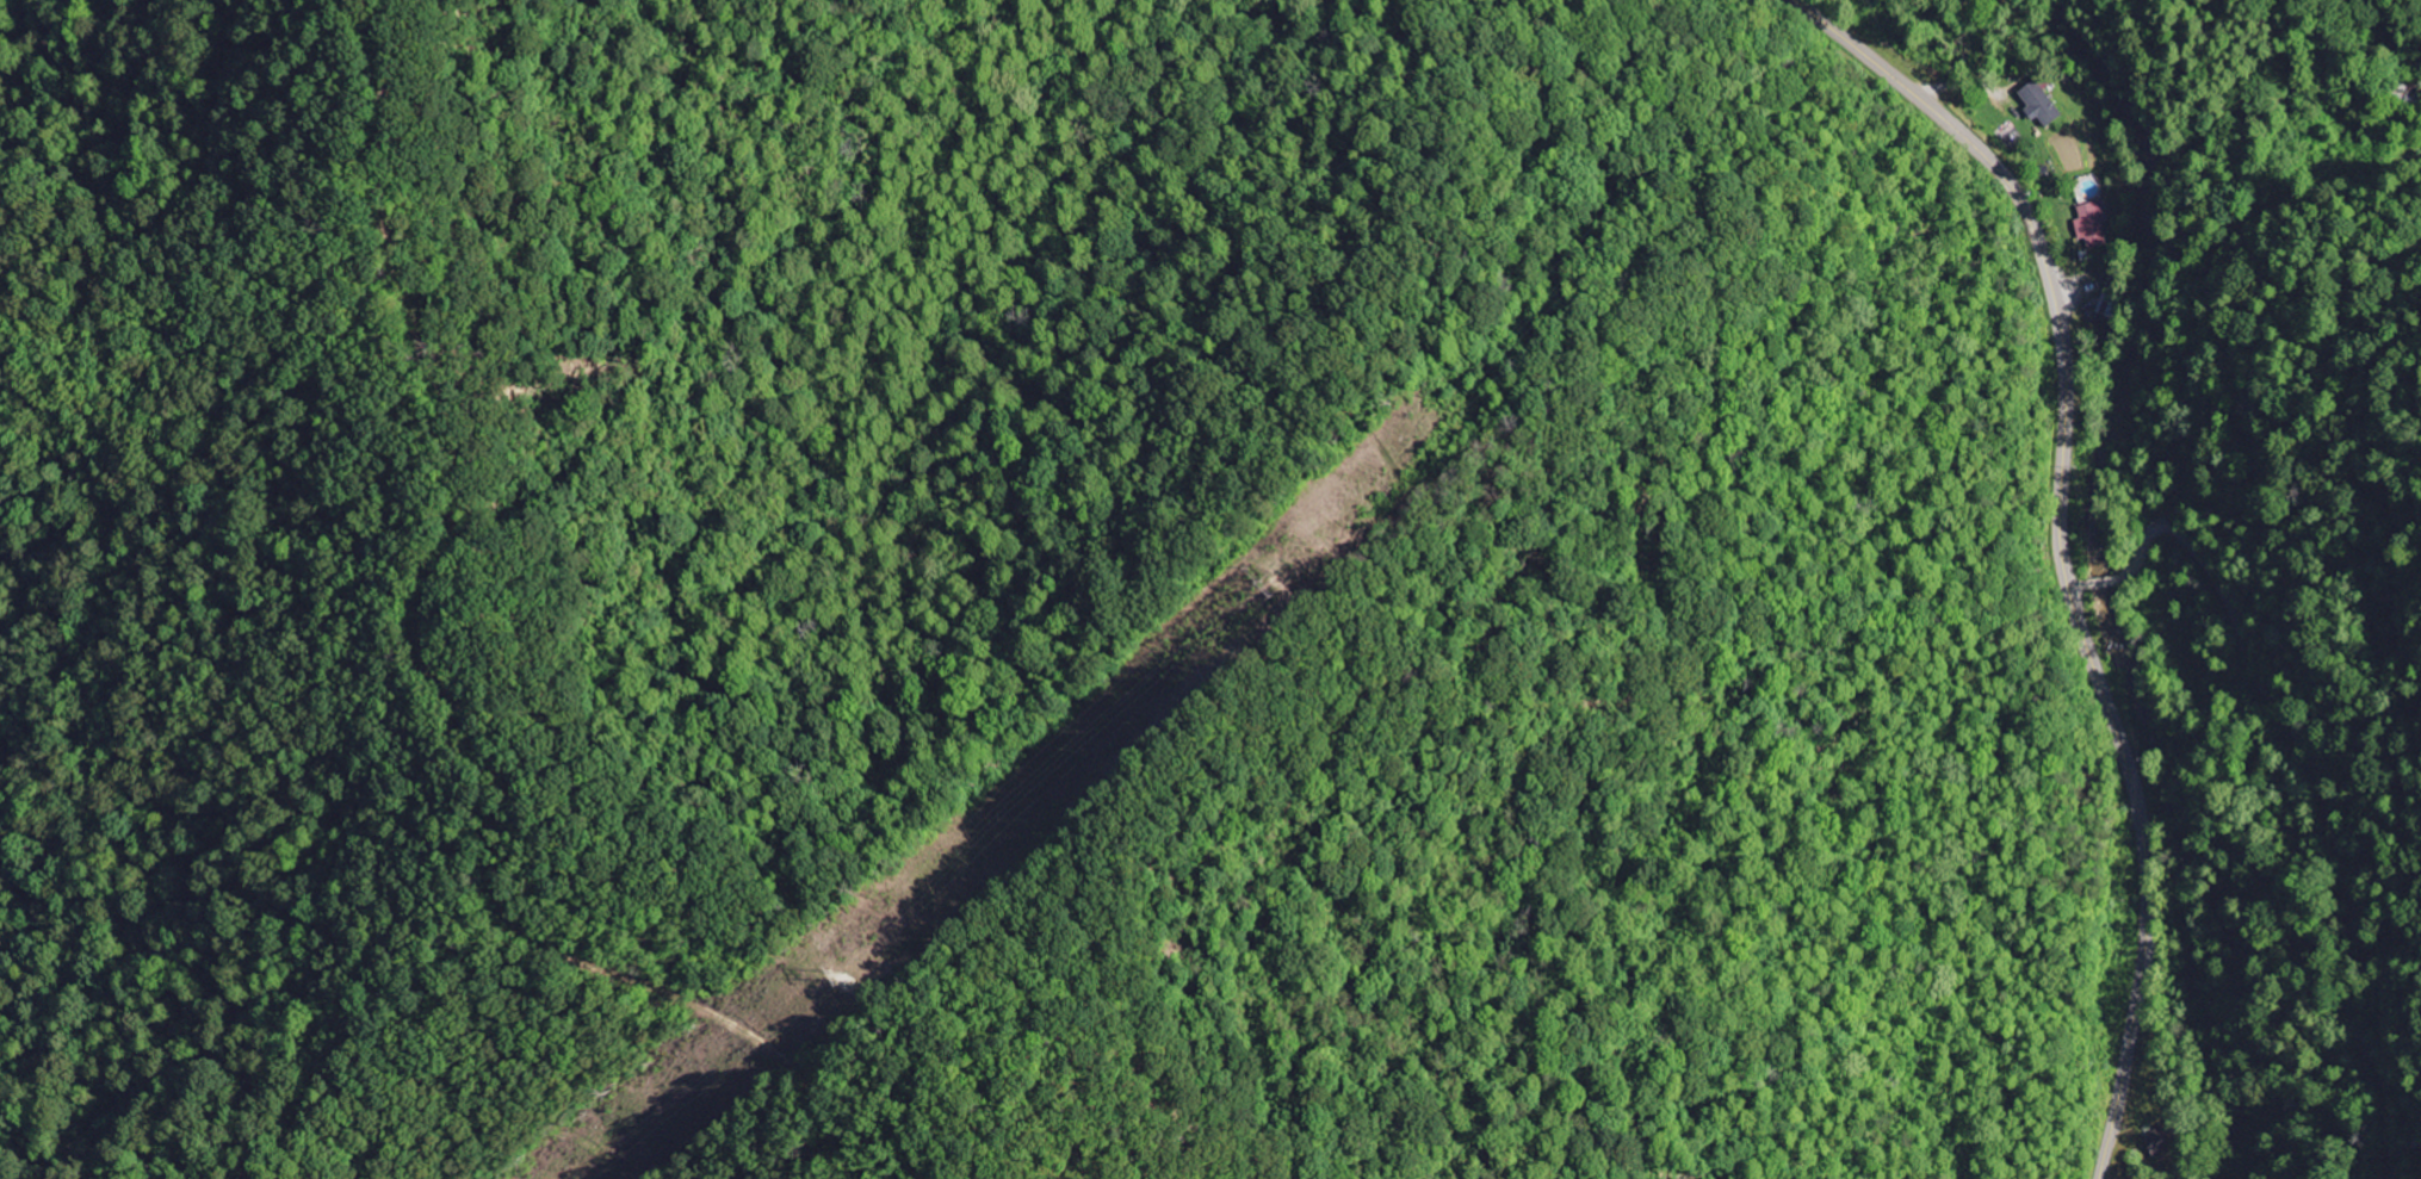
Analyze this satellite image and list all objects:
building: (2092, 224)
road: (2212, 275)
building: (2107, 308)
road: (2048, 514)
road: (2138, 550)
road: (2101, 584)
road: (2070, 592)
road: (2336, 830)
building: (2161, 1140)
road: (2118, 1143)

